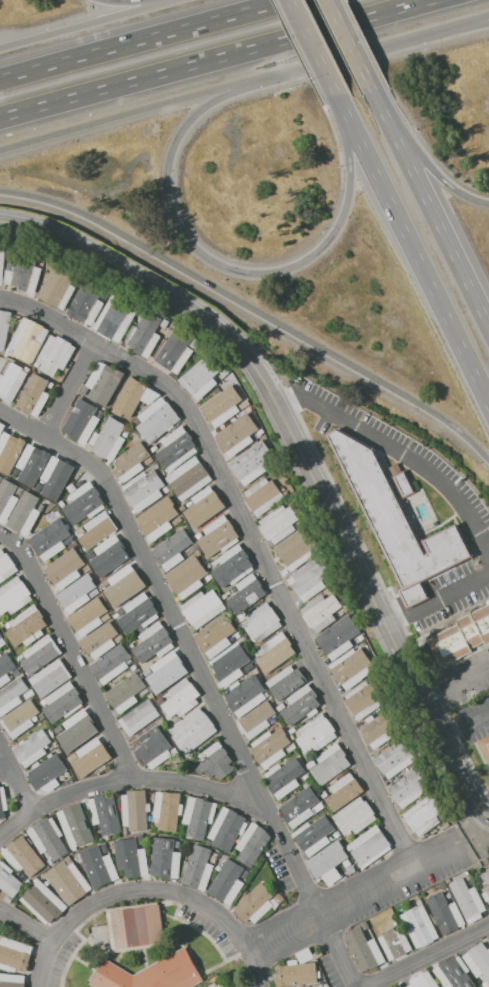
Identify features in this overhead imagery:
road: (132, 1)
road: (252, 10)
road: (464, 24)
road: (85, 25)
road: (464, 27)
road: (352, 42)
road: (310, 48)
road: (107, 49)
road: (298, 53)
road: (351, 55)
road: (220, 59)
road: (131, 114)
road: (337, 146)
road: (418, 156)
road: (347, 184)
road: (431, 201)
road: (411, 255)
building: (1, 262)
road: (229, 268)
building: (21, 270)
building: (58, 287)
building: (86, 305)
road: (254, 308)
road: (424, 312)
road: (49, 316)
building: (114, 319)
building: (164, 323)
building: (4, 327)
building: (144, 335)
building: (28, 340)
building: (194, 343)
building: (175, 351)
building: (6, 353)
building: (54, 355)
building: (224, 373)
building: (201, 377)
building: (11, 382)
building: (103, 382)
building: (84, 390)
road: (70, 392)
building: (34, 396)
building: (133, 396)
road: (275, 399)
building: (222, 406)
building: (157, 420)
building: (81, 421)
road: (22, 427)
building: (125, 434)
building: (237, 435)
building: (108, 439)
building: (154, 447)
building: (176, 448)
road: (398, 450)
building: (9, 451)
building: (132, 461)
building: (32, 464)
building: (251, 464)
road: (485, 467)
road: (488, 470)
building: (0, 476)
building: (56, 477)
building: (189, 478)
building: (402, 482)
building: (165, 489)
building: (142, 490)
building: (285, 493)
building: (262, 496)
building: (7, 498)
building: (83, 504)
building: (204, 507)
building: (182, 508)
building: (24, 513)
building: (157, 519)
building: (299, 523)
building: (396, 523)
building: (278, 524)
building: (97, 530)
building: (79, 531)
building: (198, 535)
road: (7, 537)
building: (218, 537)
building: (50, 540)
building: (69, 540)
building: (73, 544)
building: (192, 547)
building: (172, 548)
building: (295, 549)
building: (198, 553)
building: (108, 554)
building: (6, 566)
building: (232, 566)
building: (64, 569)
building: (186, 577)
building: (208, 577)
building: (308, 580)
building: (125, 583)
building: (103, 584)
road: (278, 586)
building: (97, 590)
road: (385, 593)
building: (77, 594)
building: (246, 594)
building: (13, 595)
building: (224, 596)
road: (436, 600)
building: (347, 607)
building: (202, 608)
building: (320, 611)
building: (138, 613)
building: (341, 613)
building: (115, 615)
building: (242, 615)
building: (87, 616)
road: (174, 617)
building: (261, 623)
building: (1, 624)
building: (8, 625)
building: (26, 626)
building: (237, 635)
building: (216, 636)
building: (338, 636)
building: (461, 637)
building: (359, 638)
building: (119, 639)
building: (99, 640)
building: (2, 642)
building: (153, 642)
building: (130, 645)
building: (274, 652)
building: (40, 655)
building: (20, 657)
road: (78, 658)
building: (111, 664)
building: (228, 666)
building: (5, 668)
building: (351, 668)
building: (166, 671)
building: (16, 672)
building: (145, 673)
building: (49, 678)
building: (285, 682)
road: (455, 687)
building: (125, 692)
building: (144, 692)
building: (29, 693)
building: (11, 695)
building: (245, 696)
building: (181, 698)
building: (365, 699)
building: (159, 701)
building: (62, 702)
building: (300, 705)
building: (280, 706)
building: (40, 717)
building: (138, 717)
building: (20, 718)
building: (256, 720)
road: (431, 721)
building: (379, 726)
road: (464, 726)
building: (56, 729)
building: (76, 729)
building: (193, 730)
building: (292, 730)
building: (316, 733)
building: (270, 746)
building: (32, 748)
building: (153, 748)
building: (291, 748)
building: (484, 748)
building: (91, 757)
building: (72, 758)
building: (396, 758)
building: (215, 761)
building: (310, 763)
building: (330, 764)
road: (3, 771)
building: (47, 772)
building: (284, 777)
building: (305, 777)
building: (68, 781)
road: (460, 782)
road: (16, 786)
building: (409, 787)
building: (343, 791)
road: (224, 792)
building: (324, 794)
building: (2, 802)
building: (299, 806)
building: (318, 807)
building: (135, 810)
building: (167, 810)
building: (104, 813)
building: (424, 814)
building: (199, 815)
building: (354, 817)
building: (74, 825)
building: (227, 829)
building: (125, 831)
building: (337, 834)
building: (314, 835)
building: (47, 837)
building: (107, 838)
building: (208, 842)
building: (253, 843)
building: (178, 844)
building: (370, 846)
building: (74, 849)
building: (216, 854)
building: (23, 856)
building: (128, 857)
building: (68, 859)
building: (165, 859)
building: (328, 865)
building: (102, 868)
building: (197, 869)
parking lot: (279, 869)
building: (345, 875)
building: (467, 876)
building: (448, 880)
building: (485, 880)
building: (9, 881)
building: (69, 881)
building: (226, 881)
building: (470, 881)
building: (442, 885)
road: (152, 890)
parking lot: (401, 892)
building: (485, 896)
building: (7, 899)
building: (279, 899)
road: (353, 899)
building: (467, 900)
building: (42, 902)
building: (419, 902)
building: (253, 904)
building: (444, 912)
building: (365, 925)
building: (136, 926)
building: (419, 926)
road: (27, 927)
parking lot: (208, 928)
building: (488, 941)
building: (394, 943)
building: (363, 950)
building: (16, 954)
building: (318, 954)
building: (304, 955)
road: (427, 956)
building: (478, 959)
building: (151, 973)
building: (453, 973)
building: (296, 974)
building: (11, 980)
building: (422, 980)
building: (485, 984)
building: (395, 985)

